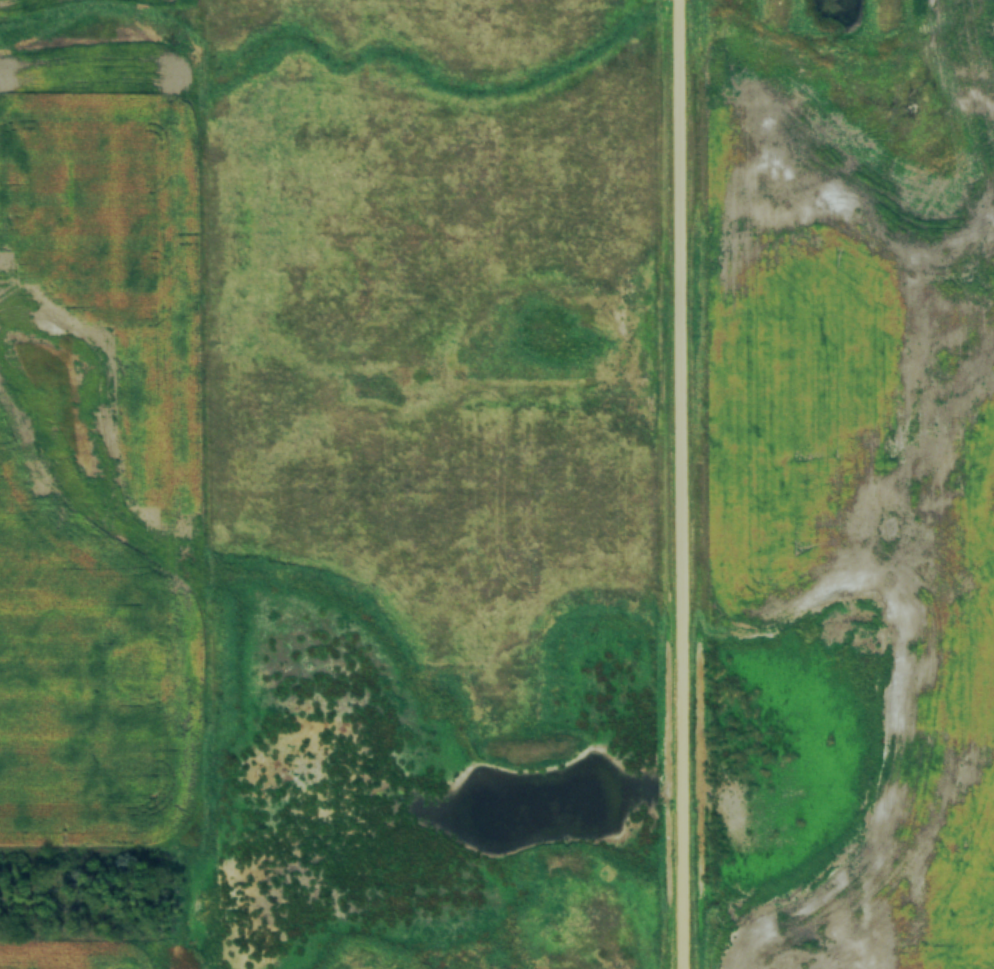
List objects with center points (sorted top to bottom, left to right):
road: (680, 484)

